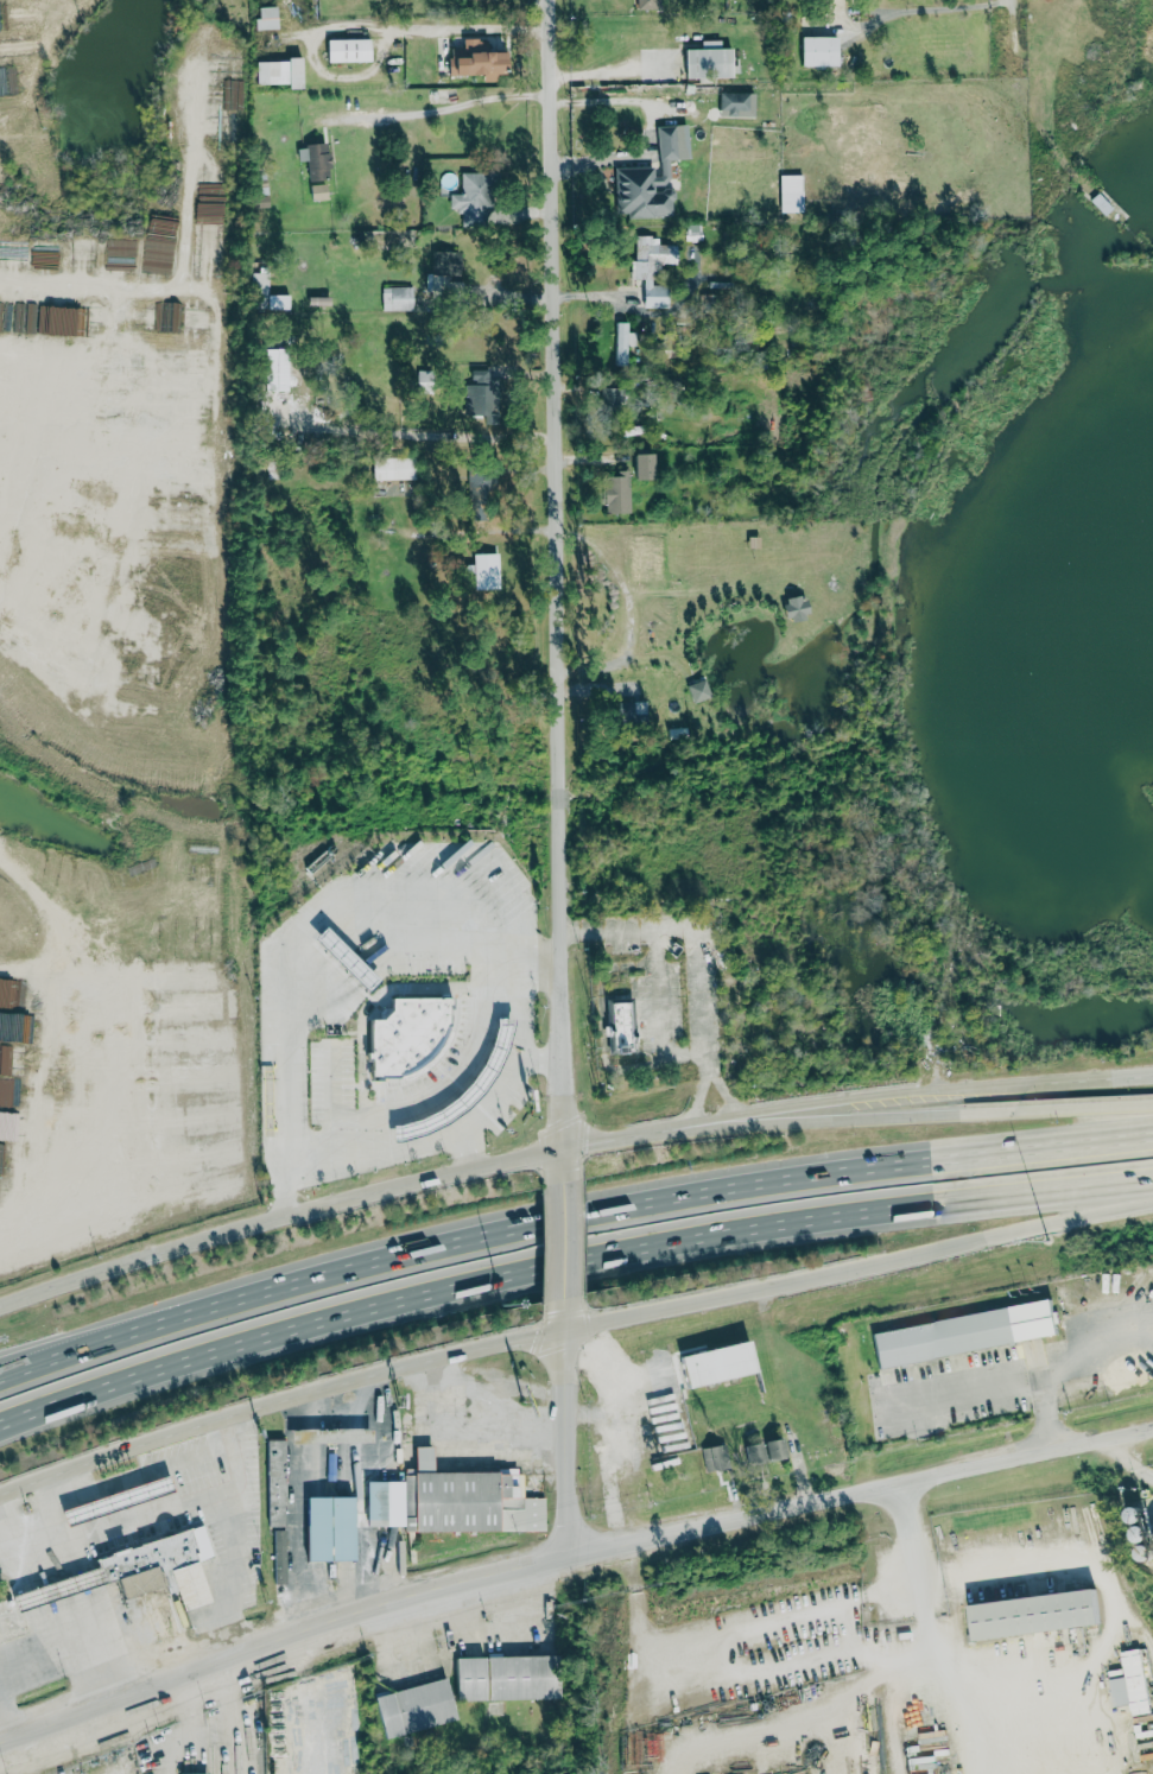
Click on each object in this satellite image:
building: (644, 4)
road: (926, 8)
building: (262, 17)
building: (343, 50)
building: (816, 50)
building: (469, 59)
building: (705, 61)
road: (608, 70)
building: (278, 72)
building: (734, 104)
road: (441, 108)
building: (311, 160)
building: (647, 177)
building: (316, 191)
building: (788, 194)
building: (464, 196)
building: (691, 232)
building: (210, 240)
building: (442, 262)
building: (648, 267)
building: (394, 298)
building: (281, 302)
building: (620, 343)
building: (132, 357)
building: (141, 381)
building: (608, 399)
building: (128, 407)
building: (639, 467)
building: (395, 468)
building: (614, 493)
building: (0, 568)
building: (482, 570)
road: (557, 574)
building: (123, 593)
building: (34, 601)
building: (790, 608)
building: (18, 629)
building: (99, 646)
building: (695, 690)
building: (629, 711)
road: (11, 863)
road: (28, 914)
road: (724, 946)
road: (319, 952)
building: (7, 991)
building: (617, 1026)
building: (147, 1038)
building: (175, 1078)
road: (748, 1090)
road: (967, 1094)
road: (967, 1115)
building: (151, 1120)
road: (560, 1165)
road: (384, 1190)
road: (654, 1202)
road: (562, 1241)
road: (568, 1266)
road: (857, 1267)
building: (959, 1332)
road: (83, 1344)
road: (83, 1354)
road: (1062, 1360)
building: (709, 1363)
building: (1125, 1370)
road: (961, 1396)
road: (278, 1405)
road: (18, 1420)
road: (565, 1430)
road: (464, 1446)
road: (1133, 1446)
building: (760, 1450)
building: (272, 1482)
road: (360, 1489)
building: (465, 1500)
building: (372, 1501)
building: (325, 1528)
road: (217, 1544)
building: (279, 1556)
road: (569, 1558)
road: (908, 1560)
building: (158, 1566)
road: (305, 1579)
building: (1028, 1614)
road: (1111, 1620)
road: (76, 1624)
road: (749, 1627)
road: (743, 1672)
building: (498, 1678)
building: (1128, 1683)
road: (851, 1689)
road: (968, 1696)
building: (408, 1708)
road: (213, 1734)
road: (1, 1735)
building: (190, 1773)

